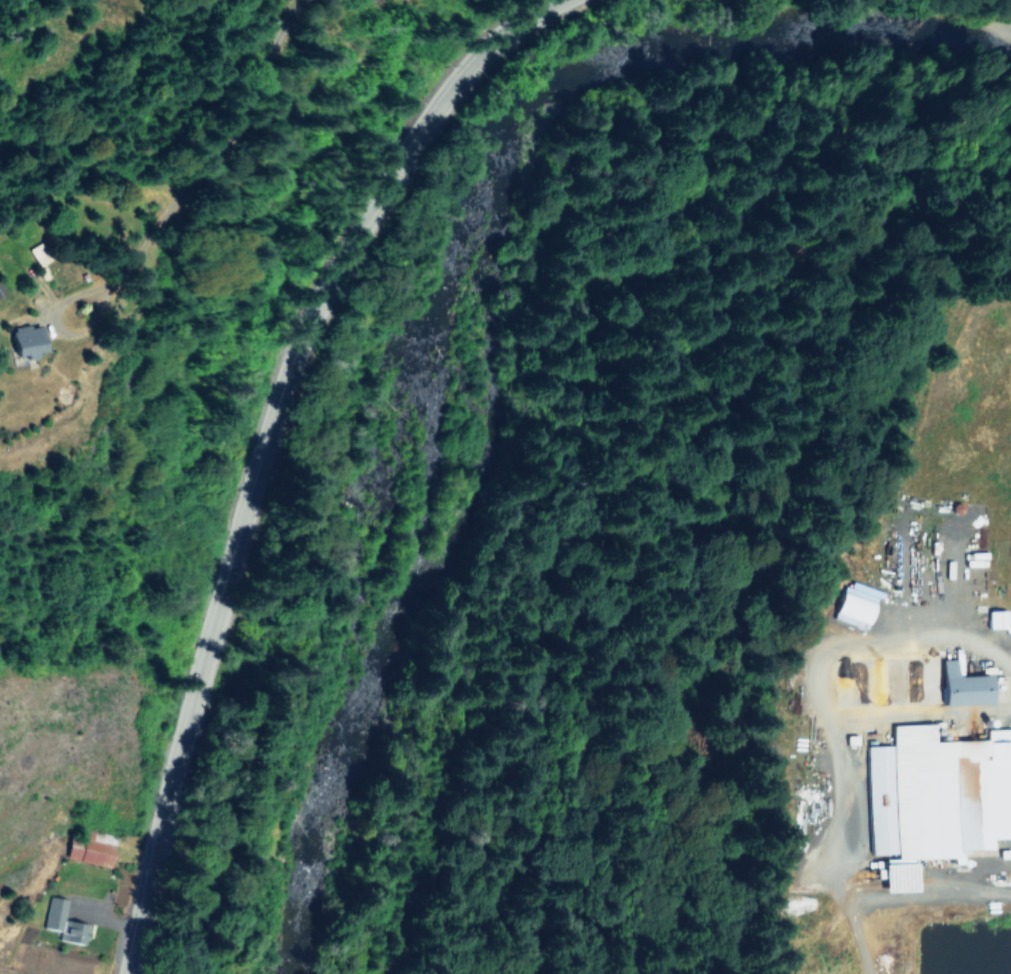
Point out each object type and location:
building: (0, 292)
building: (27, 341)
road: (261, 442)
building: (857, 604)
building: (996, 619)
building: (1009, 628)
road: (826, 678)
building: (965, 685)
crop: (917, 706)
road: (924, 717)
building: (936, 798)
building: (92, 852)
crop: (119, 872)
road: (928, 901)
building: (64, 922)
road: (861, 930)

